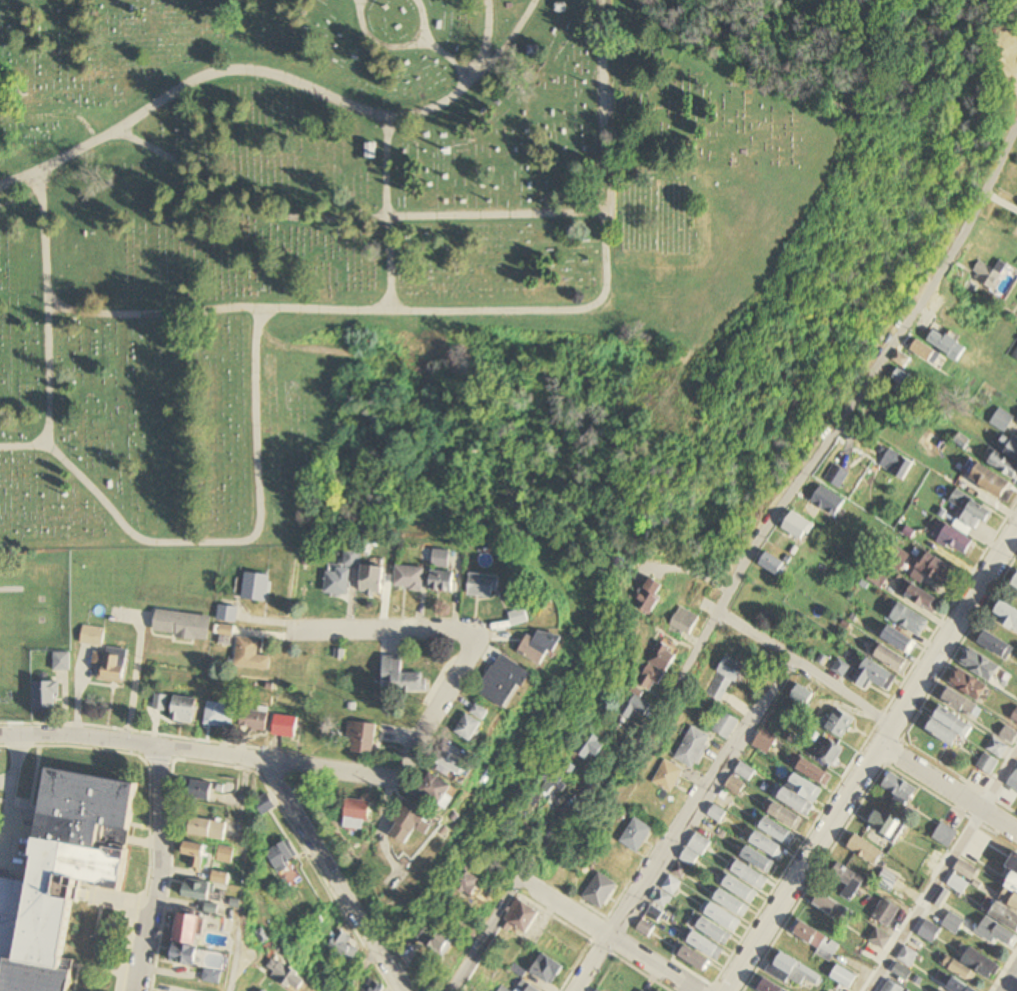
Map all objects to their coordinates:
road: (512, 39)
road: (376, 43)
road: (430, 46)
road: (272, 76)
road: (53, 116)
road: (19, 199)
road: (387, 214)
road: (349, 217)
park: (345, 227)
building: (989, 274)
road: (47, 308)
road: (475, 312)
building: (948, 345)
building: (926, 352)
building: (1016, 355)
building: (905, 383)
building: (1006, 457)
building: (897, 464)
building: (992, 481)
building: (830, 501)
building: (971, 511)
road: (778, 512)
building: (799, 527)
building: (956, 540)
road: (221, 542)
building: (351, 558)
building: (441, 558)
building: (774, 564)
building: (935, 571)
building: (410, 578)
building: (372, 580)
building: (442, 581)
building: (337, 583)
building: (1015, 583)
building: (485, 585)
building: (256, 587)
building: (923, 599)
building: (649, 601)
building: (227, 614)
building: (1007, 614)
building: (521, 617)
building: (910, 620)
building: (683, 623)
building: (182, 625)
building: (92, 636)
building: (226, 636)
building: (899, 639)
building: (996, 645)
building: (544, 647)
building: (251, 655)
building: (893, 659)
building: (111, 665)
building: (981, 665)
building: (659, 668)
road: (806, 668)
building: (841, 669)
building: (727, 676)
building: (873, 676)
building: (405, 677)
road: (128, 681)
building: (505, 682)
building: (968, 685)
road: (450, 688)
building: (46, 697)
building: (802, 699)
building: (159, 703)
building: (962, 704)
building: (636, 708)
building: (183, 710)
building: (220, 715)
building: (255, 720)
building: (474, 724)
building: (838, 724)
building: (286, 726)
building: (725, 727)
building: (949, 729)
building: (1009, 735)
building: (361, 738)
building: (765, 743)
building: (692, 749)
building: (997, 749)
building: (593, 750)
building: (830, 752)
building: (456, 760)
road: (871, 760)
building: (988, 764)
road: (261, 765)
building: (815, 773)
building: (667, 777)
road: (7, 782)
building: (554, 783)
building: (899, 790)
road: (948, 790)
building: (201, 791)
building: (434, 794)
building: (801, 795)
building: (264, 805)
building: (359, 815)
building: (786, 817)
building: (886, 823)
road: (682, 824)
building: (412, 825)
building: (208, 829)
building: (778, 832)
building: (636, 835)
building: (945, 836)
building: (768, 846)
building: (866, 850)
building: (695, 851)
building: (196, 855)
building: (226, 855)
building: (282, 856)
building: (759, 860)
building: (70, 869)
road: (156, 871)
building: (750, 875)
road: (943, 876)
building: (962, 877)
building: (222, 878)
building: (847, 880)
building: (887, 881)
building: (469, 882)
building: (671, 885)
building: (1011, 886)
building: (741, 889)
building: (198, 890)
building: (600, 891)
building: (732, 903)
building: (4, 905)
building: (835, 910)
building: (885, 912)
building: (523, 916)
building: (723, 917)
building: (953, 923)
building: (1000, 926)
building: (714, 930)
building: (929, 932)
road: (607, 934)
road: (484, 936)
building: (813, 938)
building: (880, 938)
building: (188, 940)
building: (436, 940)
building: (706, 945)
building: (346, 949)
building: (907, 956)
building: (695, 959)
road: (233, 960)
building: (971, 964)
building: (547, 969)
road: (359, 970)
building: (792, 970)
building: (901, 971)
building: (843, 976)
building: (288, 977)
road: (1012, 983)
building: (770, 986)
building: (958, 986)
building: (892, 987)

